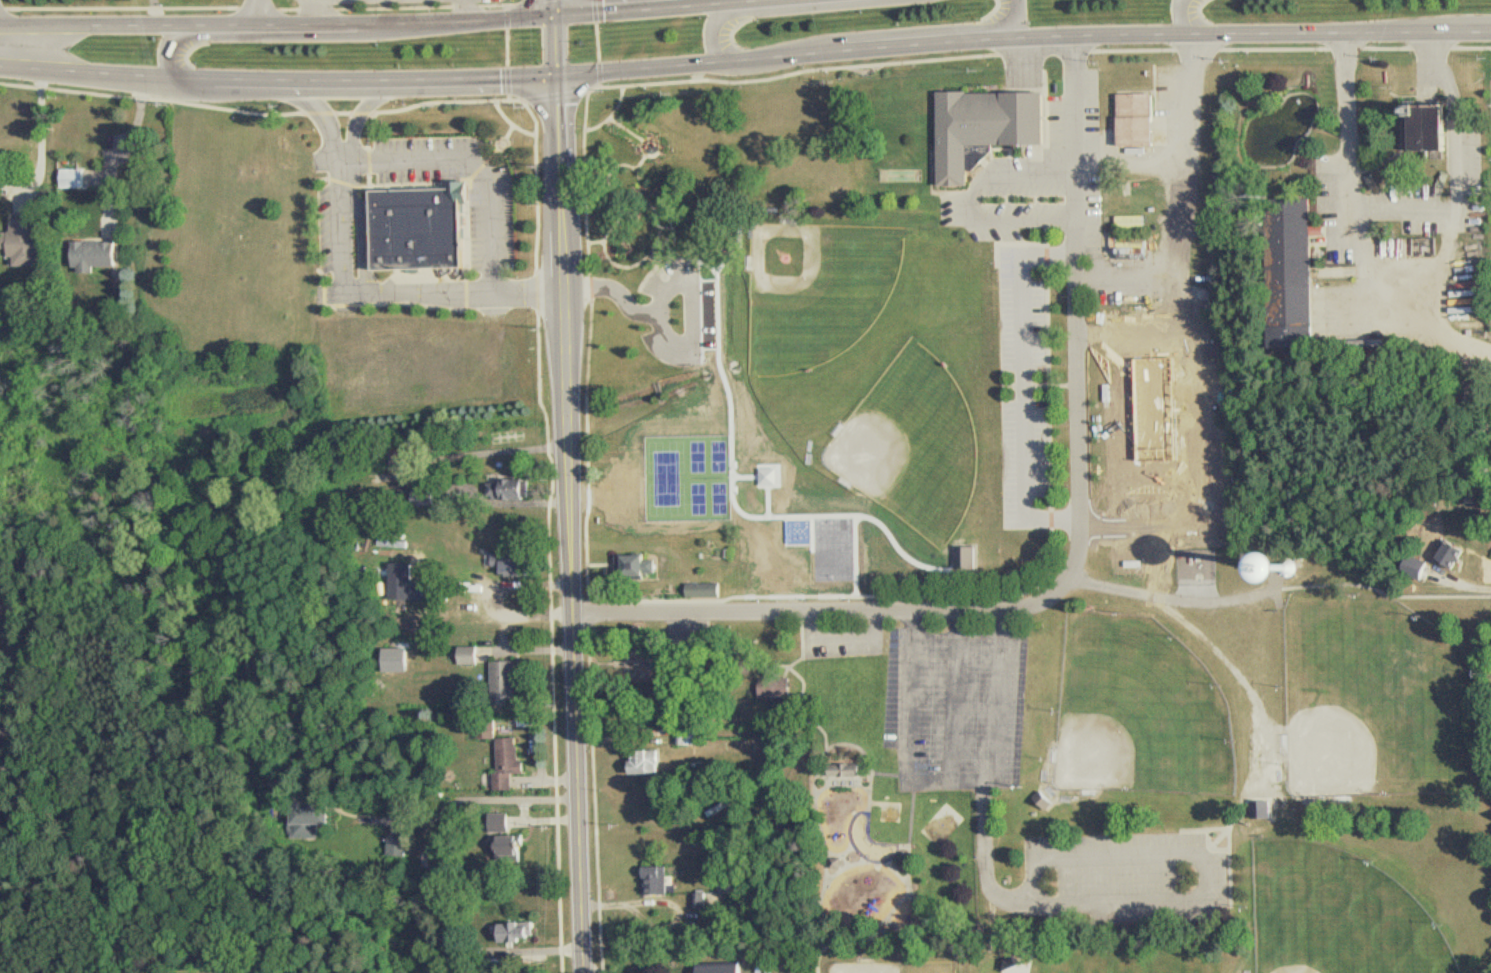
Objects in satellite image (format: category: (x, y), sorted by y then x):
road: (716, 3)
road: (657, 5)
road: (556, 8)
road: (666, 9)
road: (464, 10)
road: (261, 12)
road: (311, 12)
traffic signals: (557, 17)
road: (1185, 17)
road: (1012, 21)
road: (278, 24)
road: (264, 36)
road: (1023, 36)
road: (713, 37)
road: (557, 48)
traffic signals: (558, 79)
road: (278, 90)
building: (1144, 119)
road: (364, 121)
building: (1423, 122)
road: (327, 123)
building: (992, 129)
road: (42, 135)
road: (122, 147)
fountain: (653, 149)
road: (472, 172)
building: (77, 177)
road: (1183, 189)
road: (975, 203)
road: (1409, 209)
building: (425, 230)
building: (32, 240)
building: (98, 254)
road: (1438, 262)
building: (1299, 273)
parking lot: (673, 278)
park: (819, 290)
road: (387, 295)
road: (1397, 302)
road: (677, 350)
building: (1151, 355)
park: (914, 444)
road: (503, 451)
building: (514, 488)
road: (517, 503)
road: (573, 525)
park: (827, 543)
building: (1447, 556)
building: (967, 557)
building: (517, 563)
water tower: (1286, 567)
building: (410, 583)
park: (972, 586)
road: (1276, 590)
road: (1047, 597)
road: (814, 598)
road: (780, 612)
building: (471, 655)
building: (396, 660)
building: (506, 675)
parking lot: (943, 694)
park: (1377, 700)
park: (1140, 710)
building: (691, 739)
building: (650, 761)
building: (510, 763)
building: (852, 769)
road: (474, 799)
fountain: (891, 809)
building: (310, 820)
road: (545, 820)
building: (501, 822)
building: (397, 845)
building: (518, 845)
road: (830, 874)
parking lot: (1123, 879)
building: (658, 880)
building: (701, 901)
park: (1339, 915)
building: (519, 931)
park: (896, 967)
road: (592, 968)
building: (729, 968)

